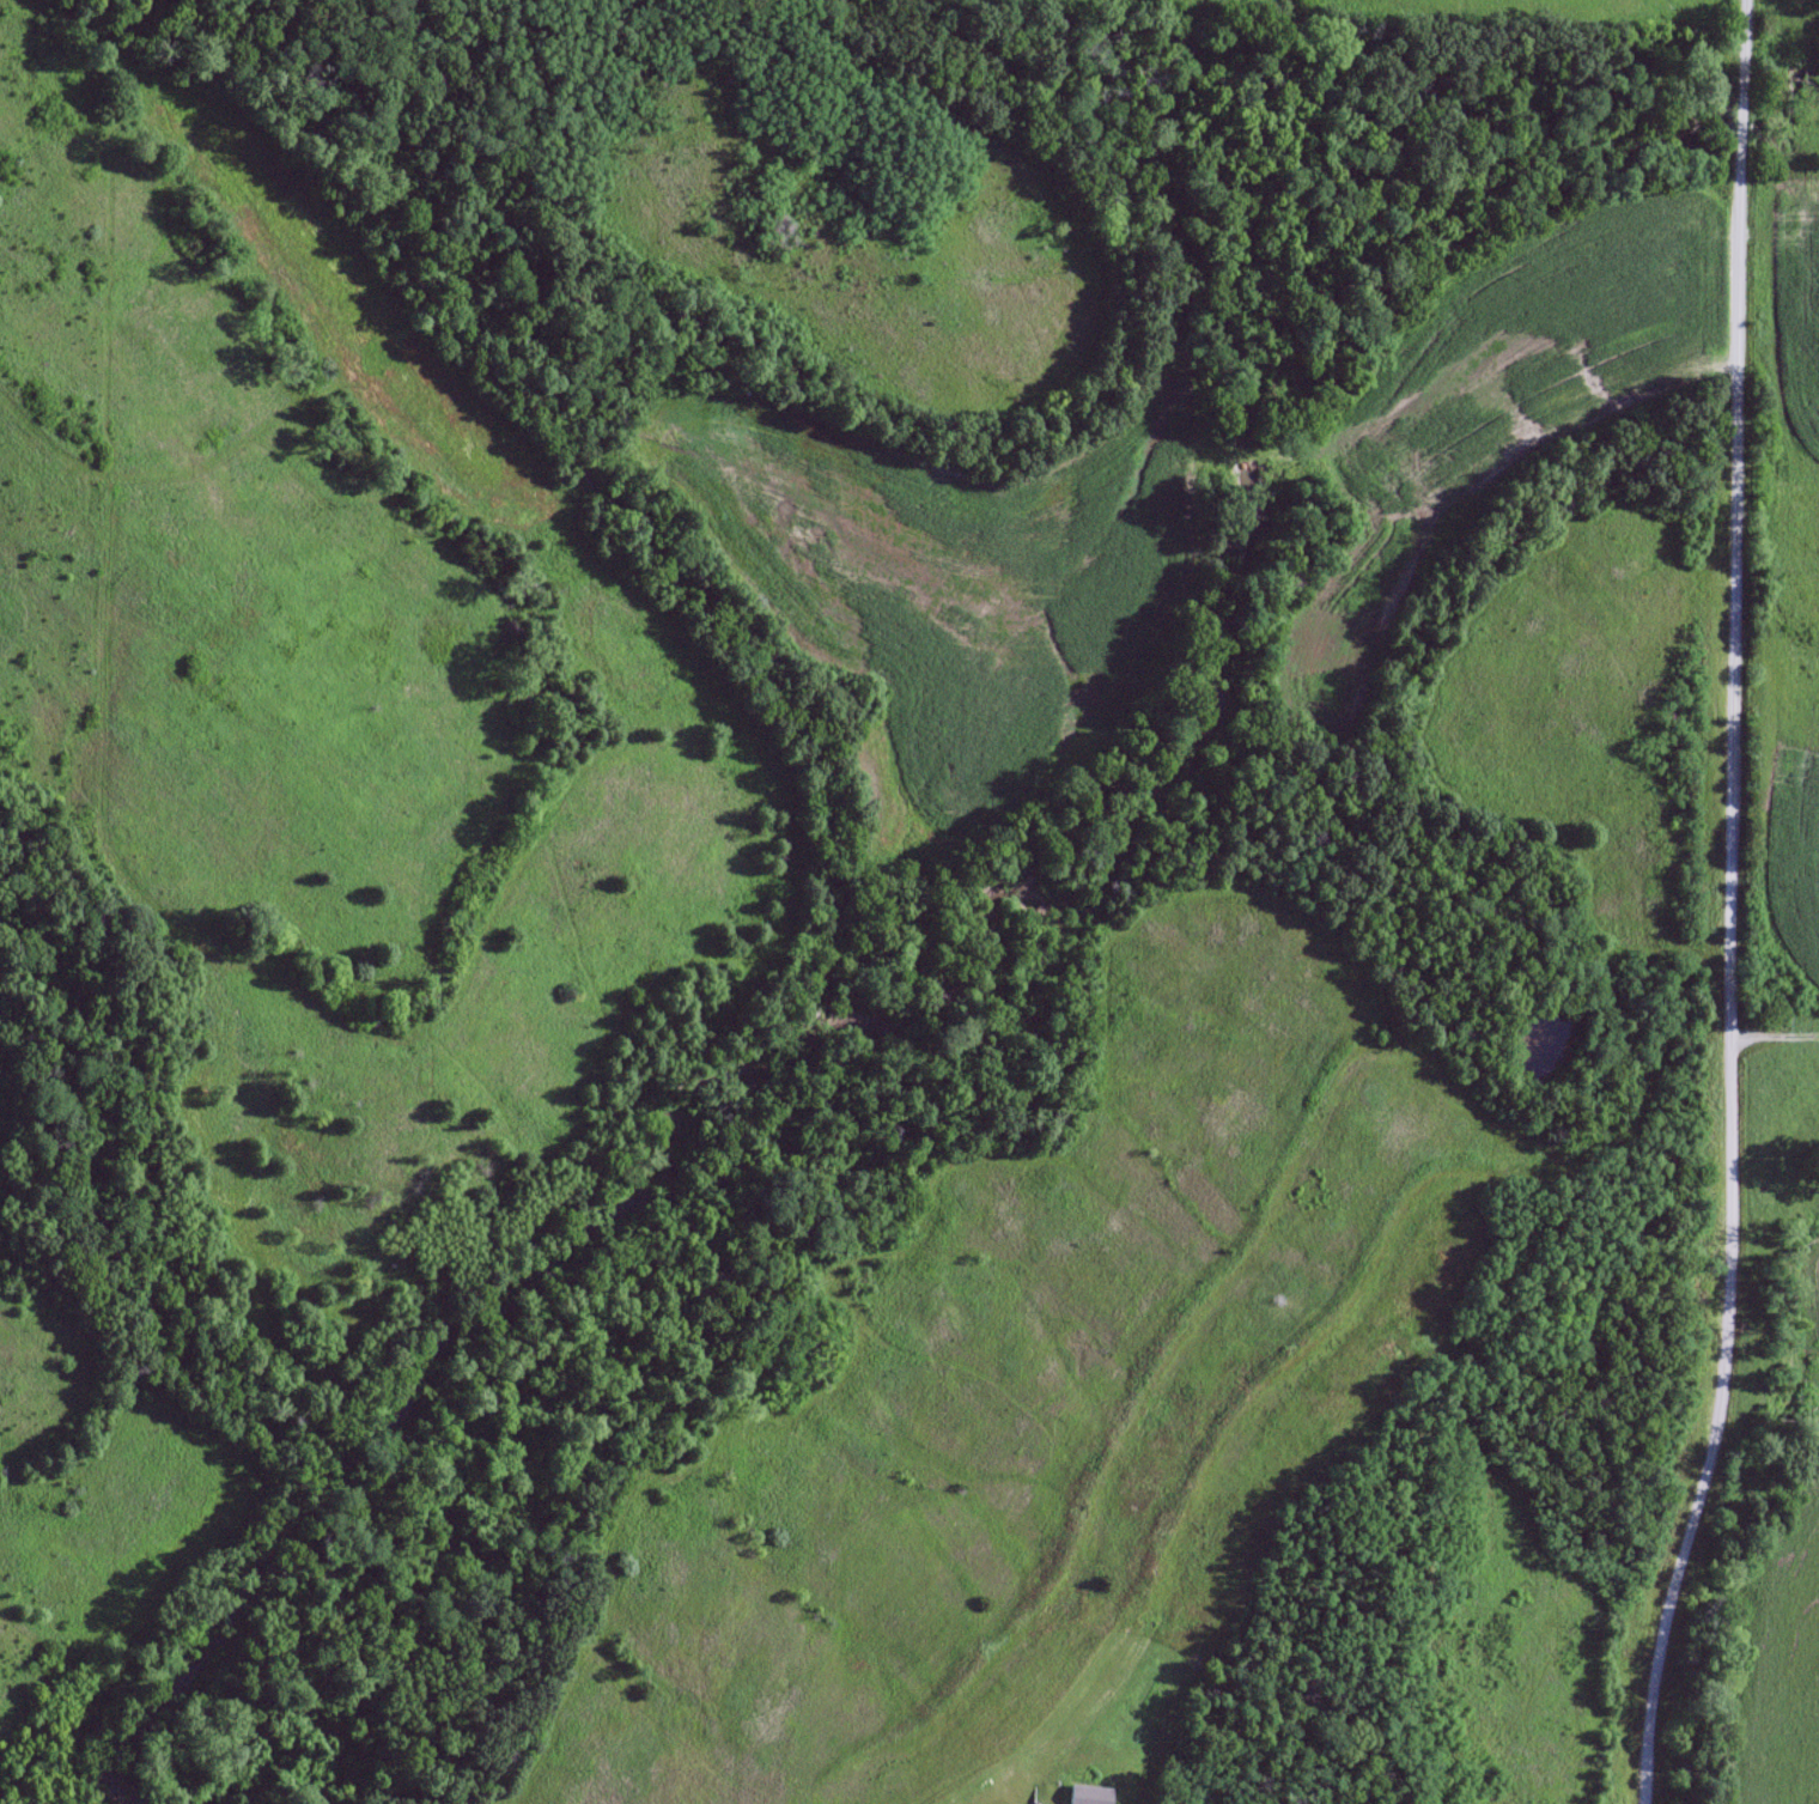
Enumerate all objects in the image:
road: (1732, 907)
building: (1088, 1794)

